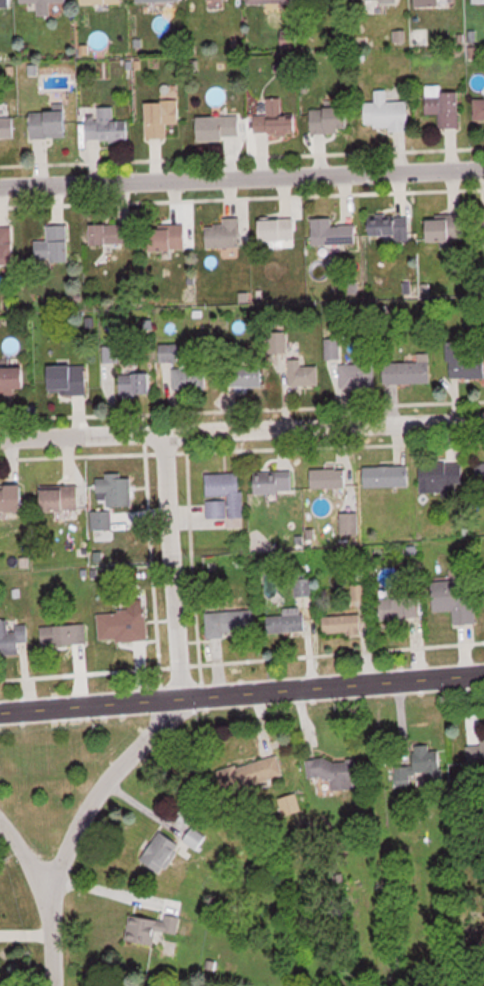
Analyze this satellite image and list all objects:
building: (159, 1)
building: (216, 1)
building: (381, 1)
building: (479, 1)
building: (103, 2)
building: (270, 2)
building: (7, 3)
building: (431, 3)
building: (47, 7)
building: (445, 106)
building: (479, 111)
building: (388, 113)
building: (161, 118)
building: (276, 120)
building: (331, 120)
building: (50, 123)
building: (108, 127)
building: (220, 128)
building: (8, 129)
road: (242, 176)
building: (390, 227)
building: (279, 229)
building: (445, 229)
building: (333, 232)
building: (225, 233)
building: (114, 234)
building: (169, 237)
building: (55, 245)
building: (7, 246)
building: (168, 353)
building: (111, 354)
building: (465, 366)
building: (409, 372)
building: (303, 375)
building: (357, 376)
building: (189, 379)
building: (13, 380)
building: (69, 380)
building: (135, 385)
road: (242, 429)
building: (480, 474)
building: (387, 477)
building: (440, 478)
building: (328, 479)
building: (274, 482)
building: (115, 491)
building: (224, 495)
building: (61, 498)
building: (11, 502)
building: (102, 520)
road: (168, 566)
building: (360, 592)
building: (457, 600)
building: (401, 608)
building: (288, 621)
building: (232, 623)
building: (343, 624)
building: (123, 625)
building: (64, 635)
building: (14, 638)
road: (332, 686)
road: (89, 705)
building: (415, 765)
park: (30, 766)
building: (251, 772)
building: (337, 773)
park: (48, 775)
road: (76, 826)
building: (195, 838)
building: (162, 851)
road: (24, 858)
building: (151, 927)

